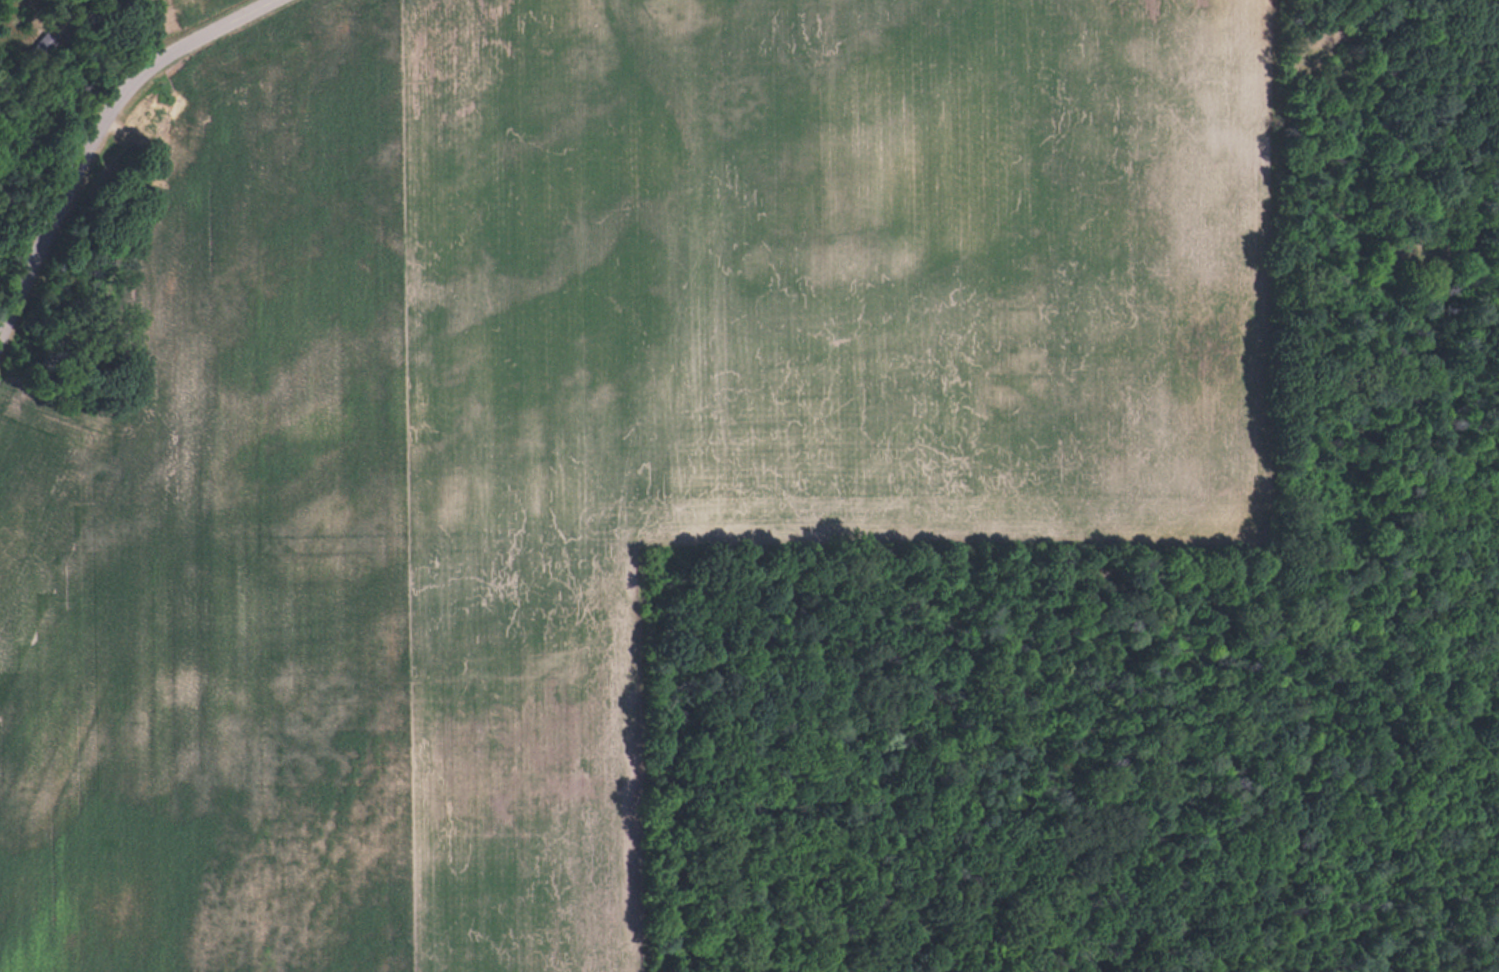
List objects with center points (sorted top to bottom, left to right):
road: (100, 134)

